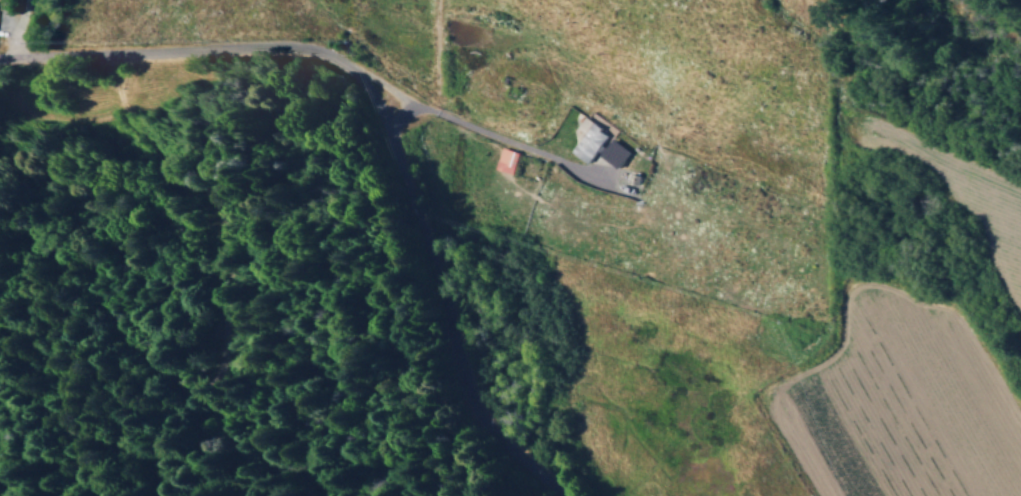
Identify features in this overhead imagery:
road: (390, 118)
building: (591, 139)
building: (616, 152)
building: (509, 159)

